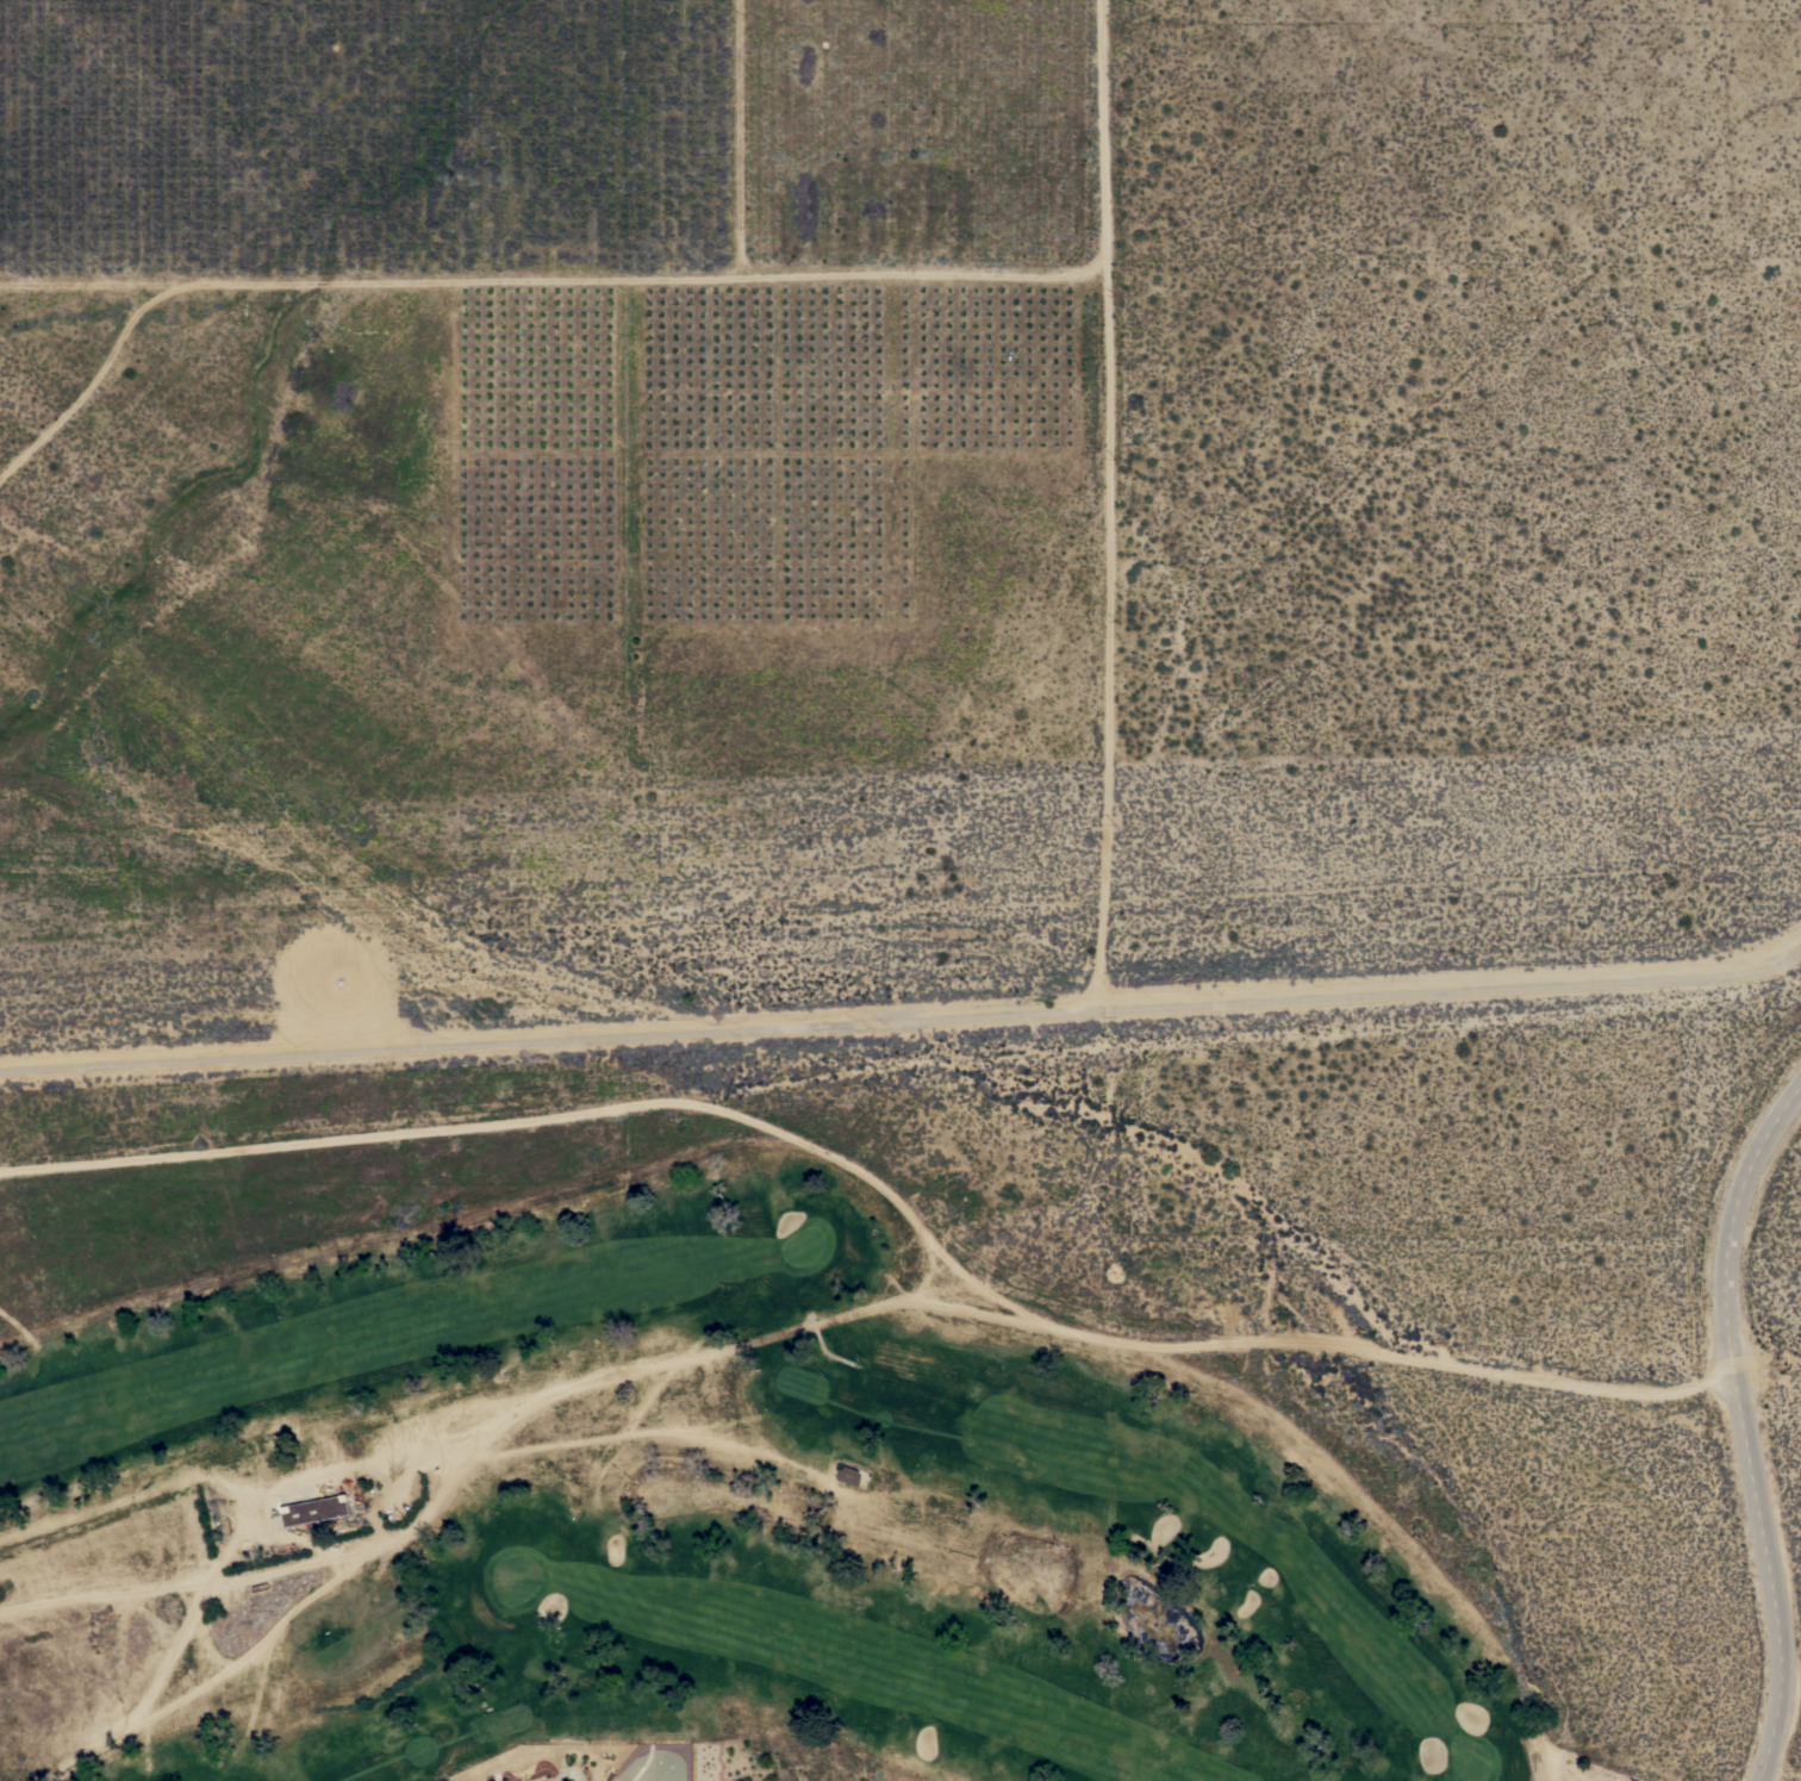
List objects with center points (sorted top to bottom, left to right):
crop: (557, 144)
road: (885, 1191)
road: (705, 1353)
road: (1743, 1425)
building: (849, 1475)
building: (316, 1509)
park: (687, 1530)

